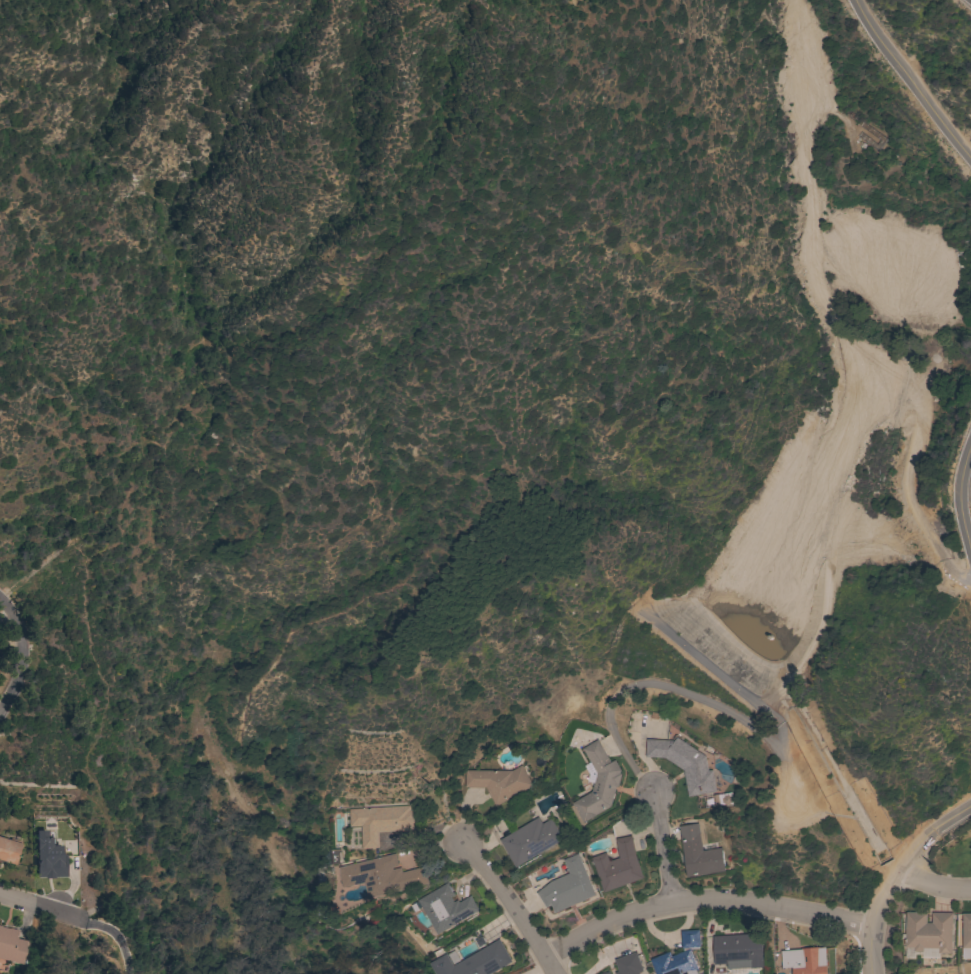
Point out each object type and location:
road: (909, 81)
road: (959, 500)
road: (20, 656)
building: (684, 763)
building: (498, 782)
building: (598, 783)
building: (380, 821)
road: (948, 822)
building: (530, 840)
road: (661, 844)
building: (970, 848)
building: (8, 851)
building: (699, 853)
building: (48, 857)
building: (618, 865)
building: (383, 875)
building: (568, 886)
road: (932, 887)
road: (704, 899)
road: (885, 899)
road: (507, 903)
building: (445, 907)
road: (41, 908)
building: (929, 931)
building: (966, 935)
road: (113, 940)
building: (12, 946)
building: (739, 950)
building: (680, 956)
building: (806, 960)
building: (476, 961)
building: (628, 964)
building: (606, 973)

